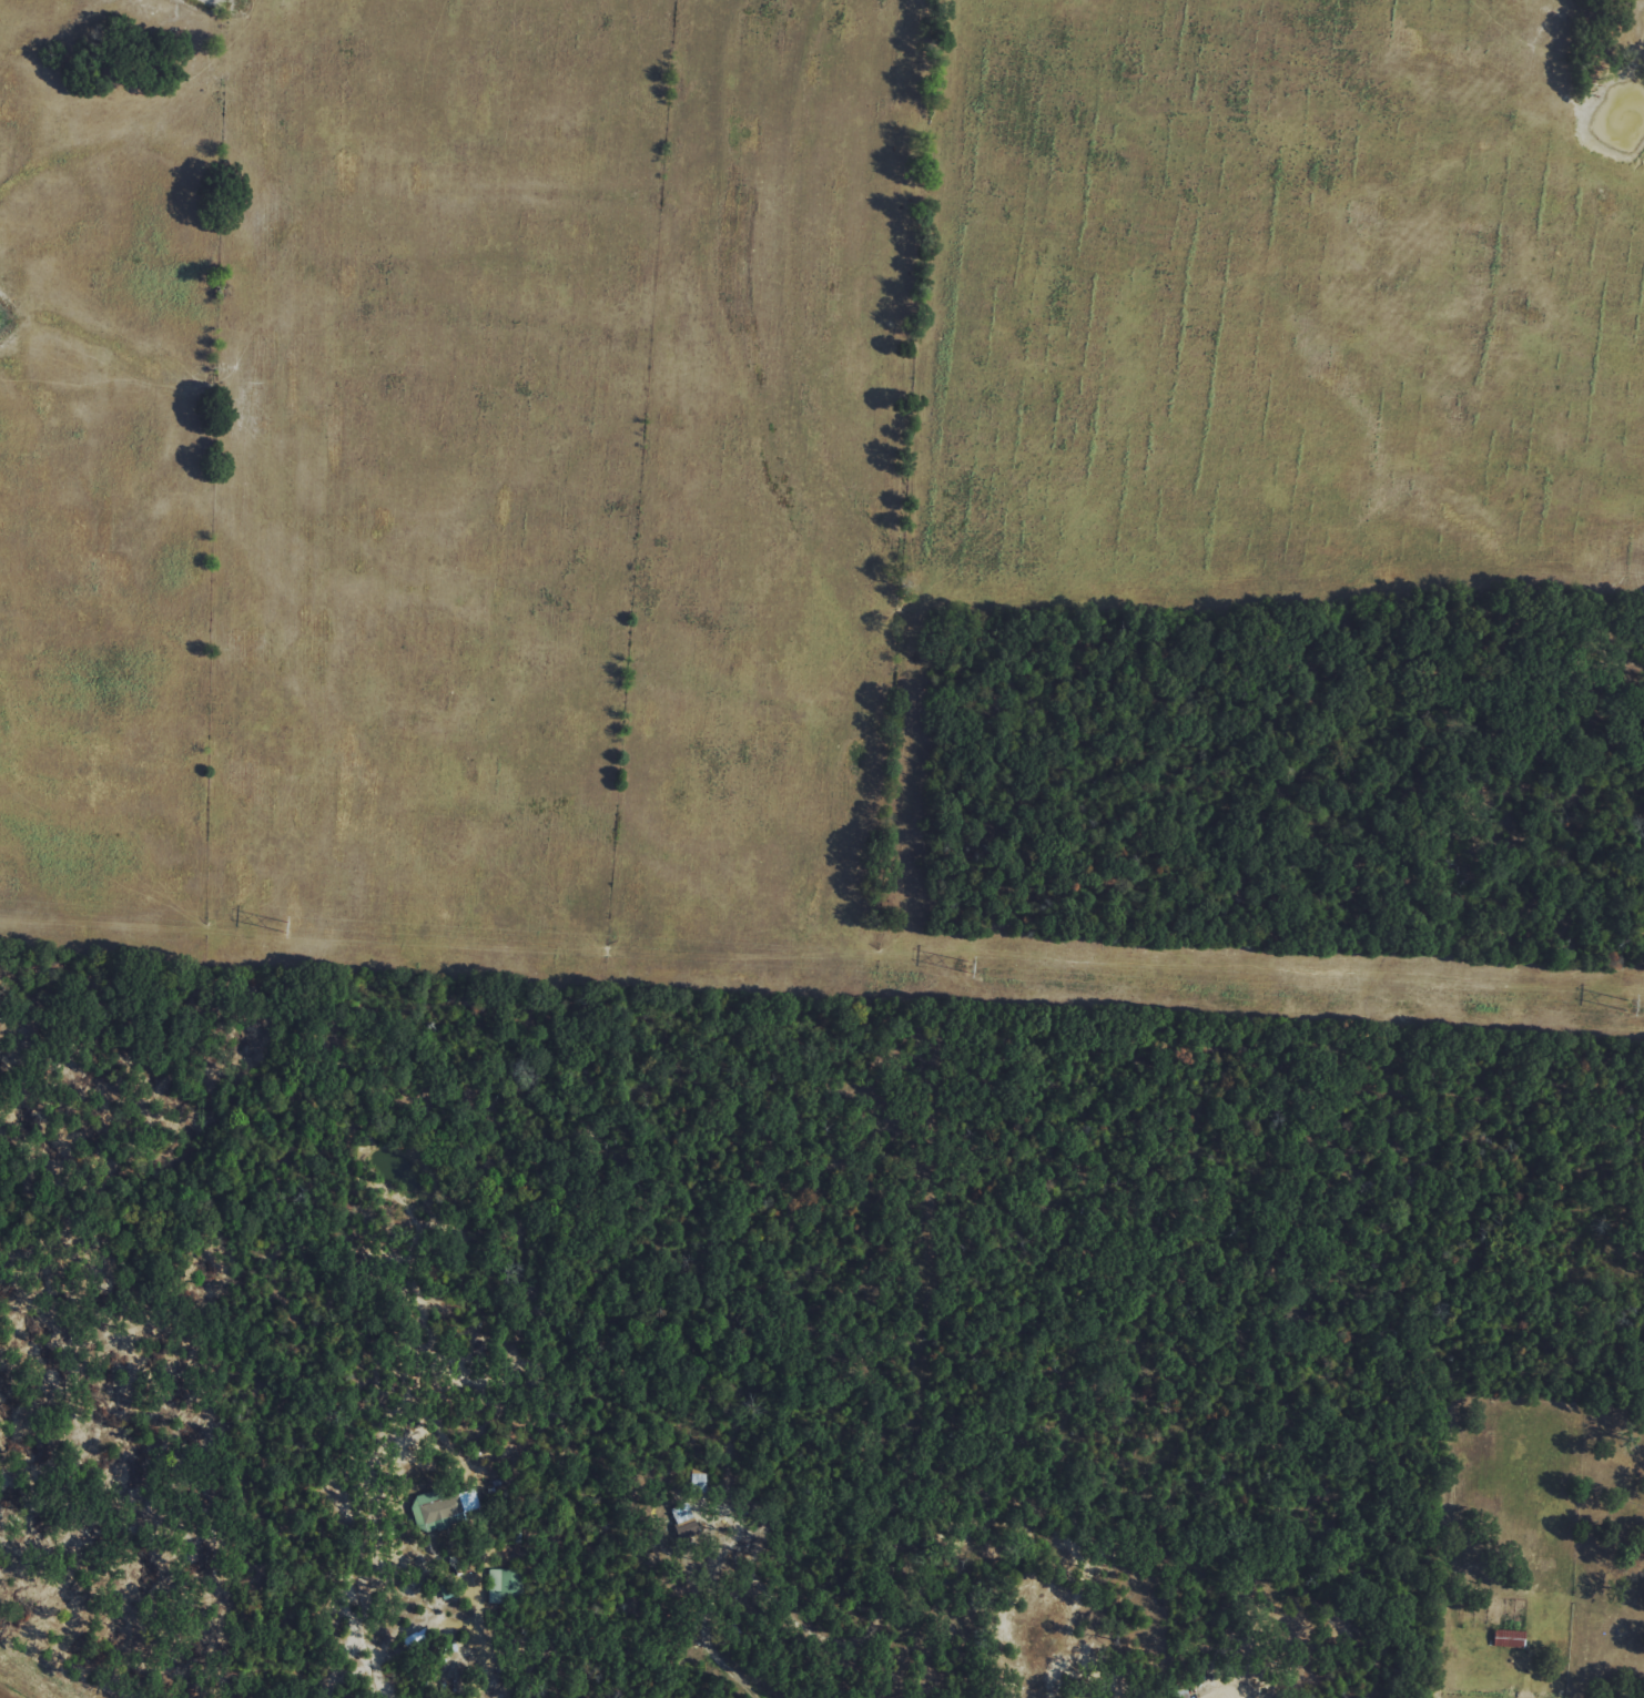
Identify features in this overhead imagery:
building: (440, 1507)
building: (504, 1585)
building: (442, 1586)
road: (484, 1640)

